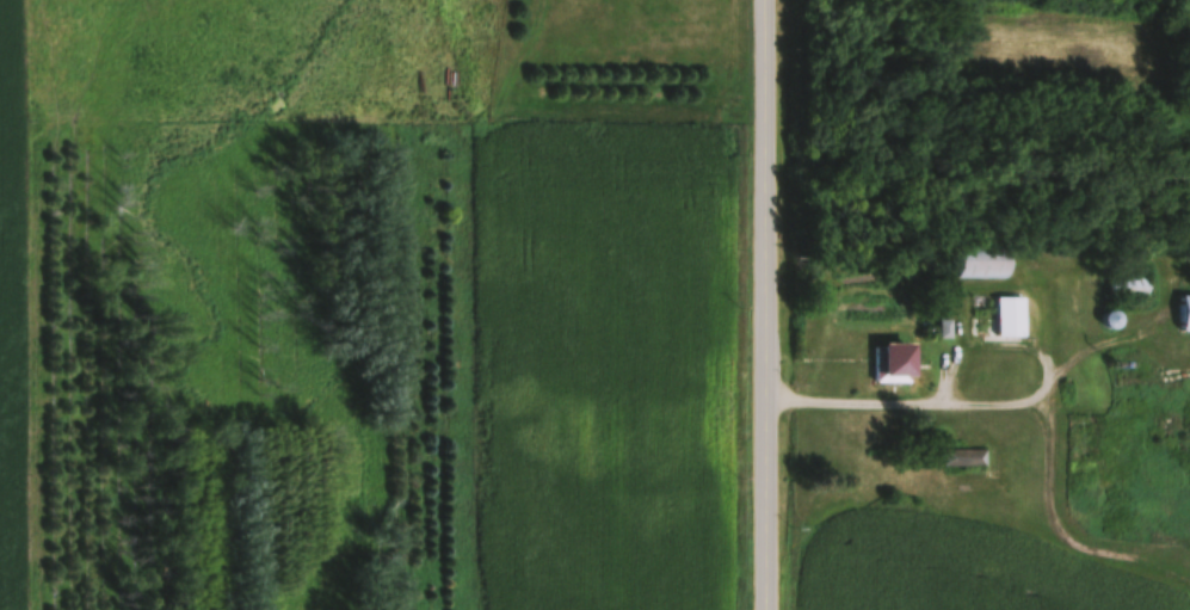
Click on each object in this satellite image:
building: (987, 263)
building: (1130, 286)
road: (771, 304)
building: (1186, 314)
building: (999, 328)
building: (898, 363)
road: (994, 407)
building: (1087, 443)
building: (966, 458)

